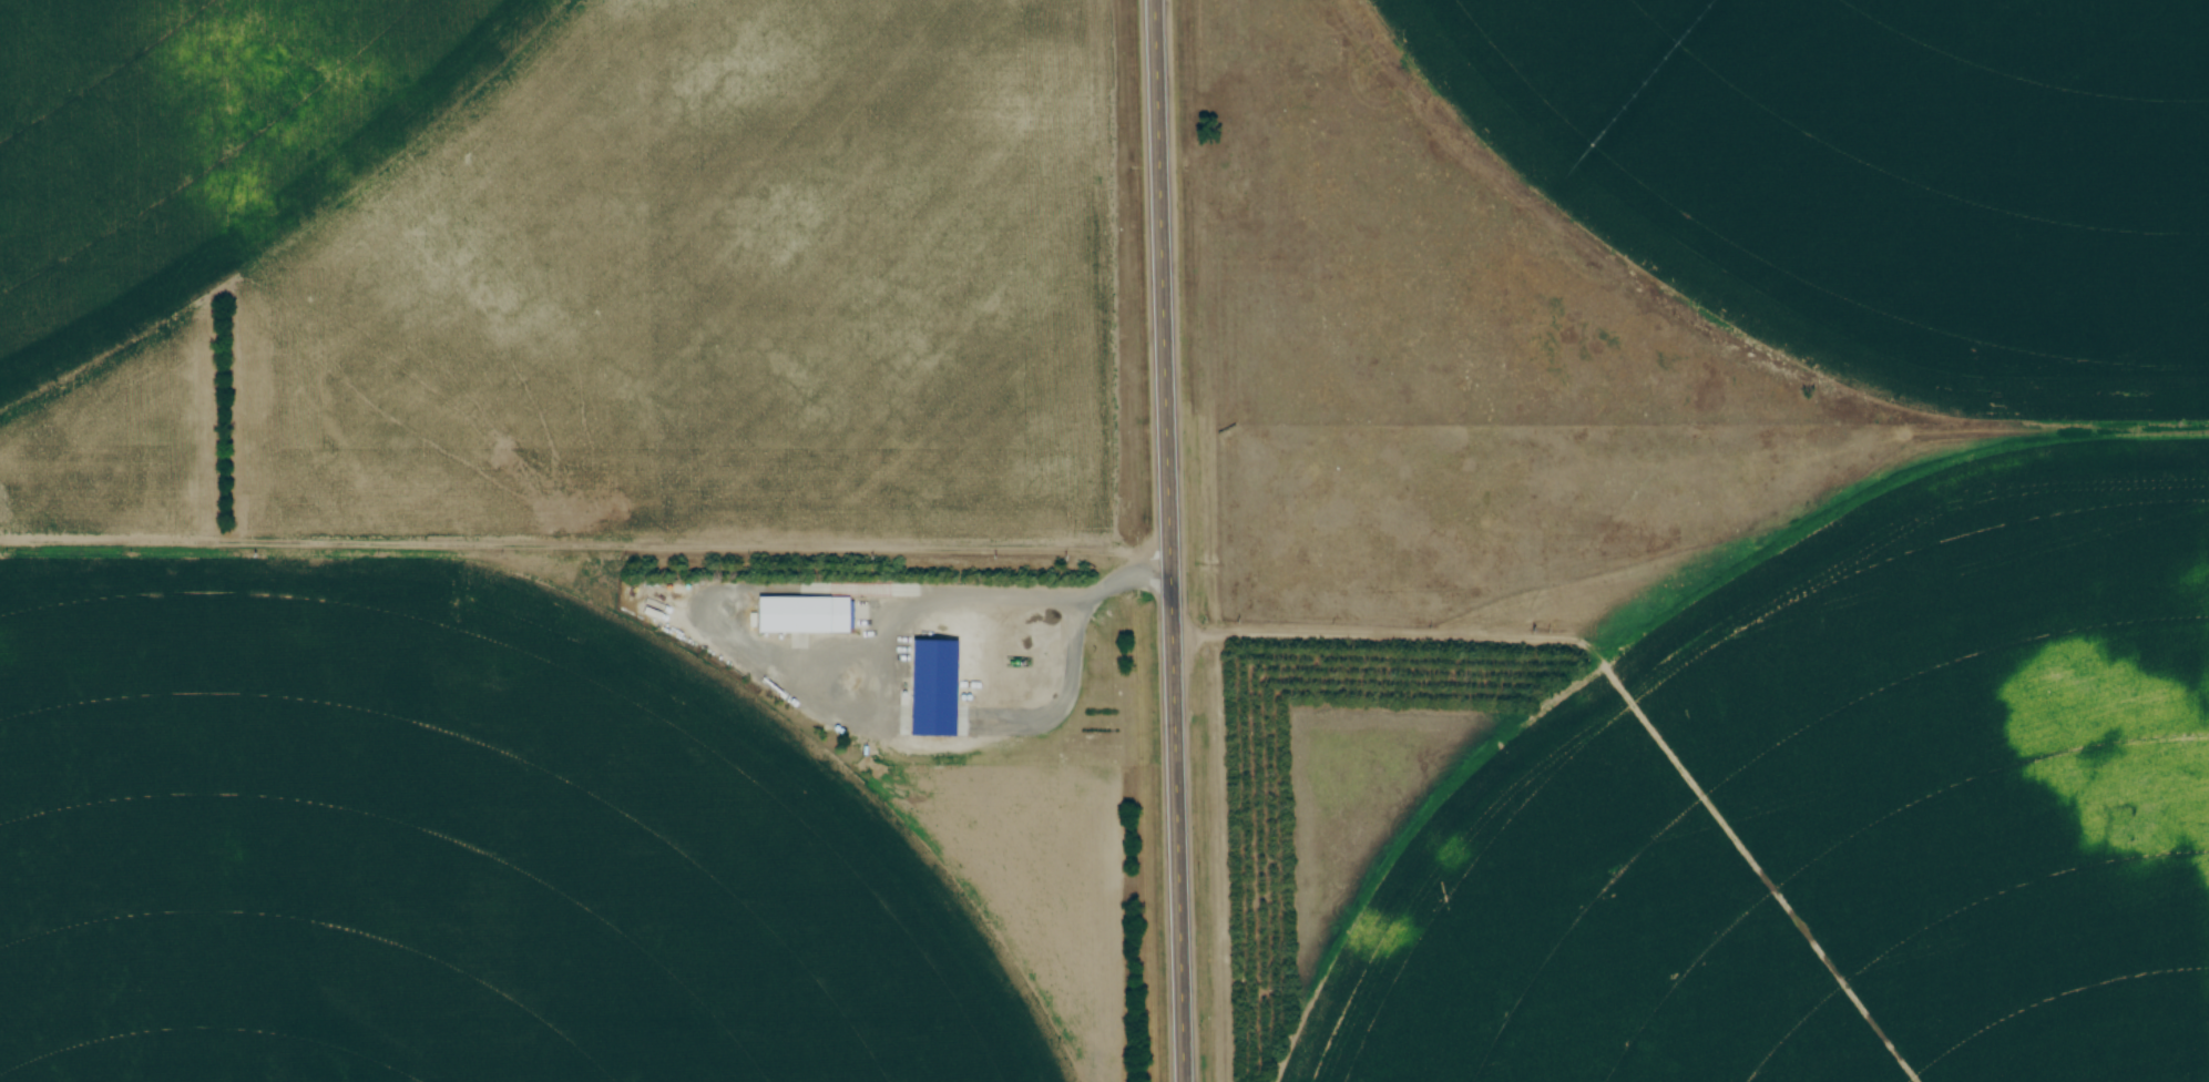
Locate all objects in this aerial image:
road: (1172, 540)
road: (1016, 588)
building: (798, 614)

